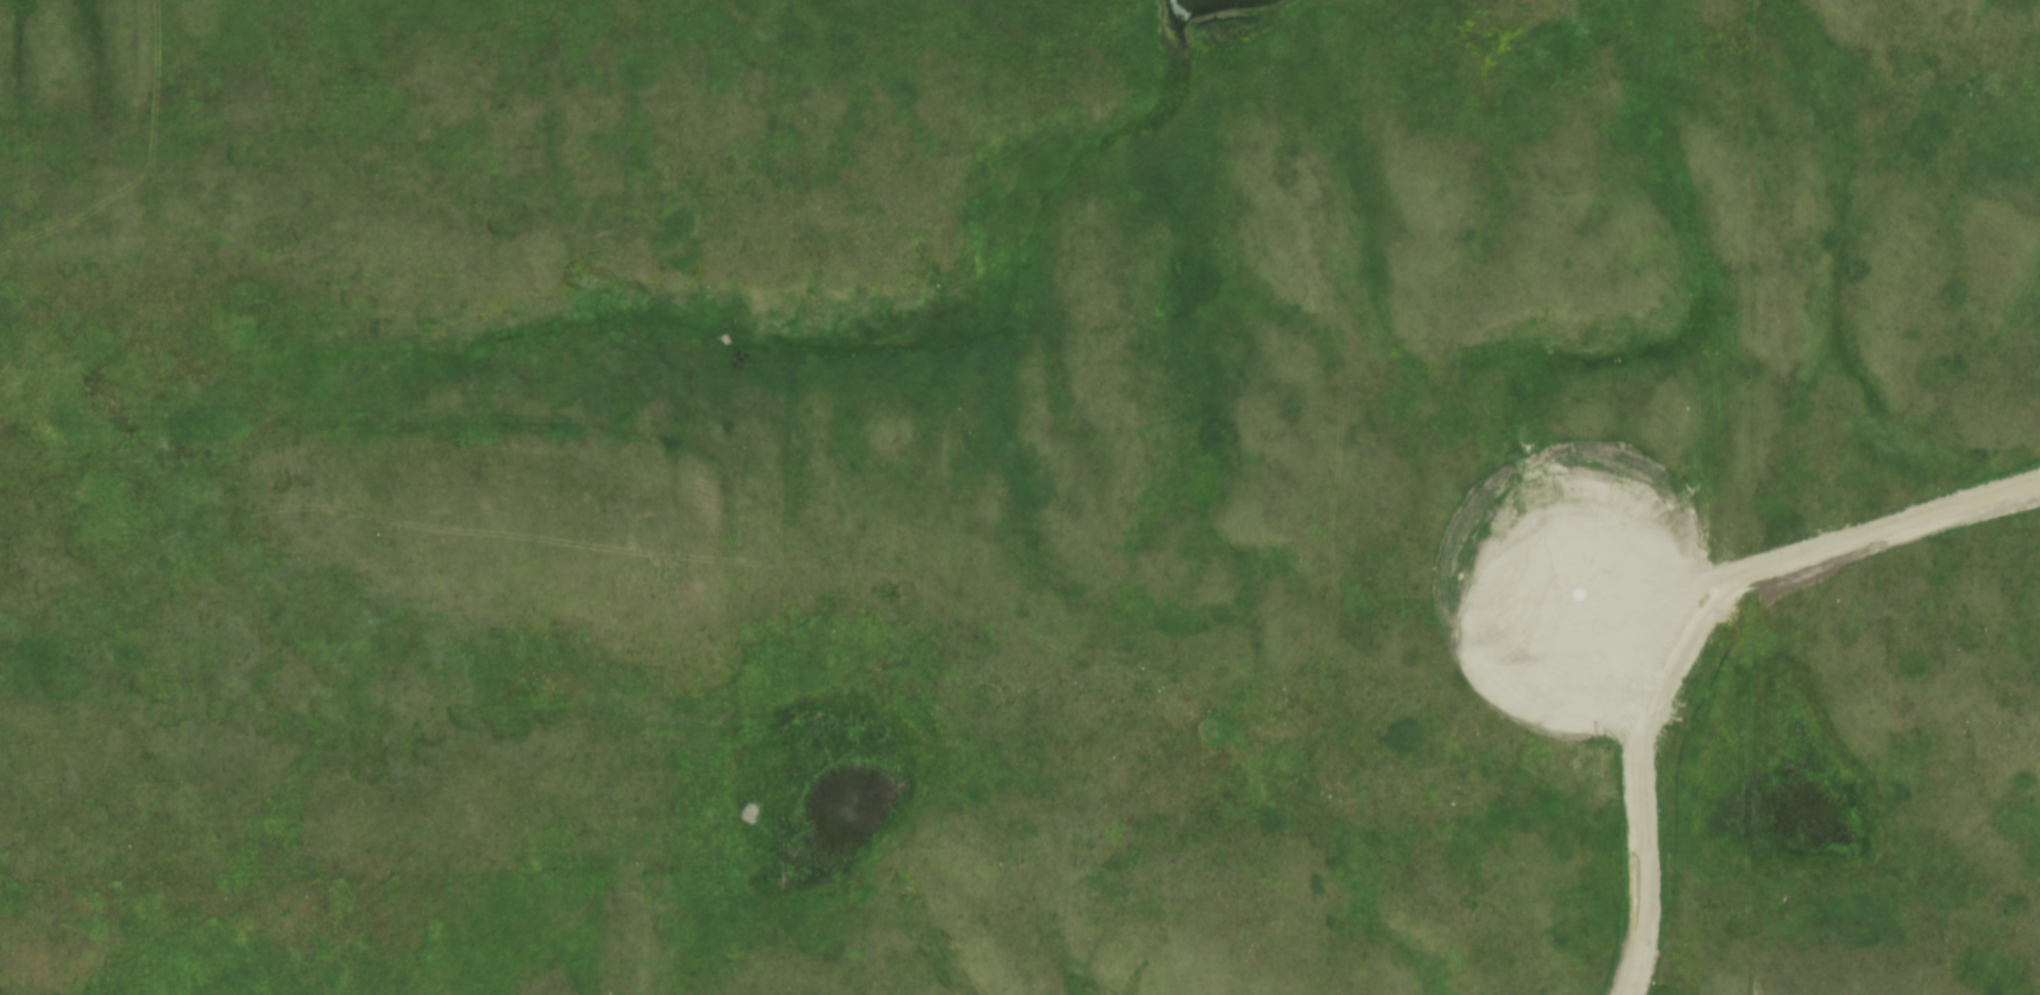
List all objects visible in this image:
wind turbine: (1575, 586)

